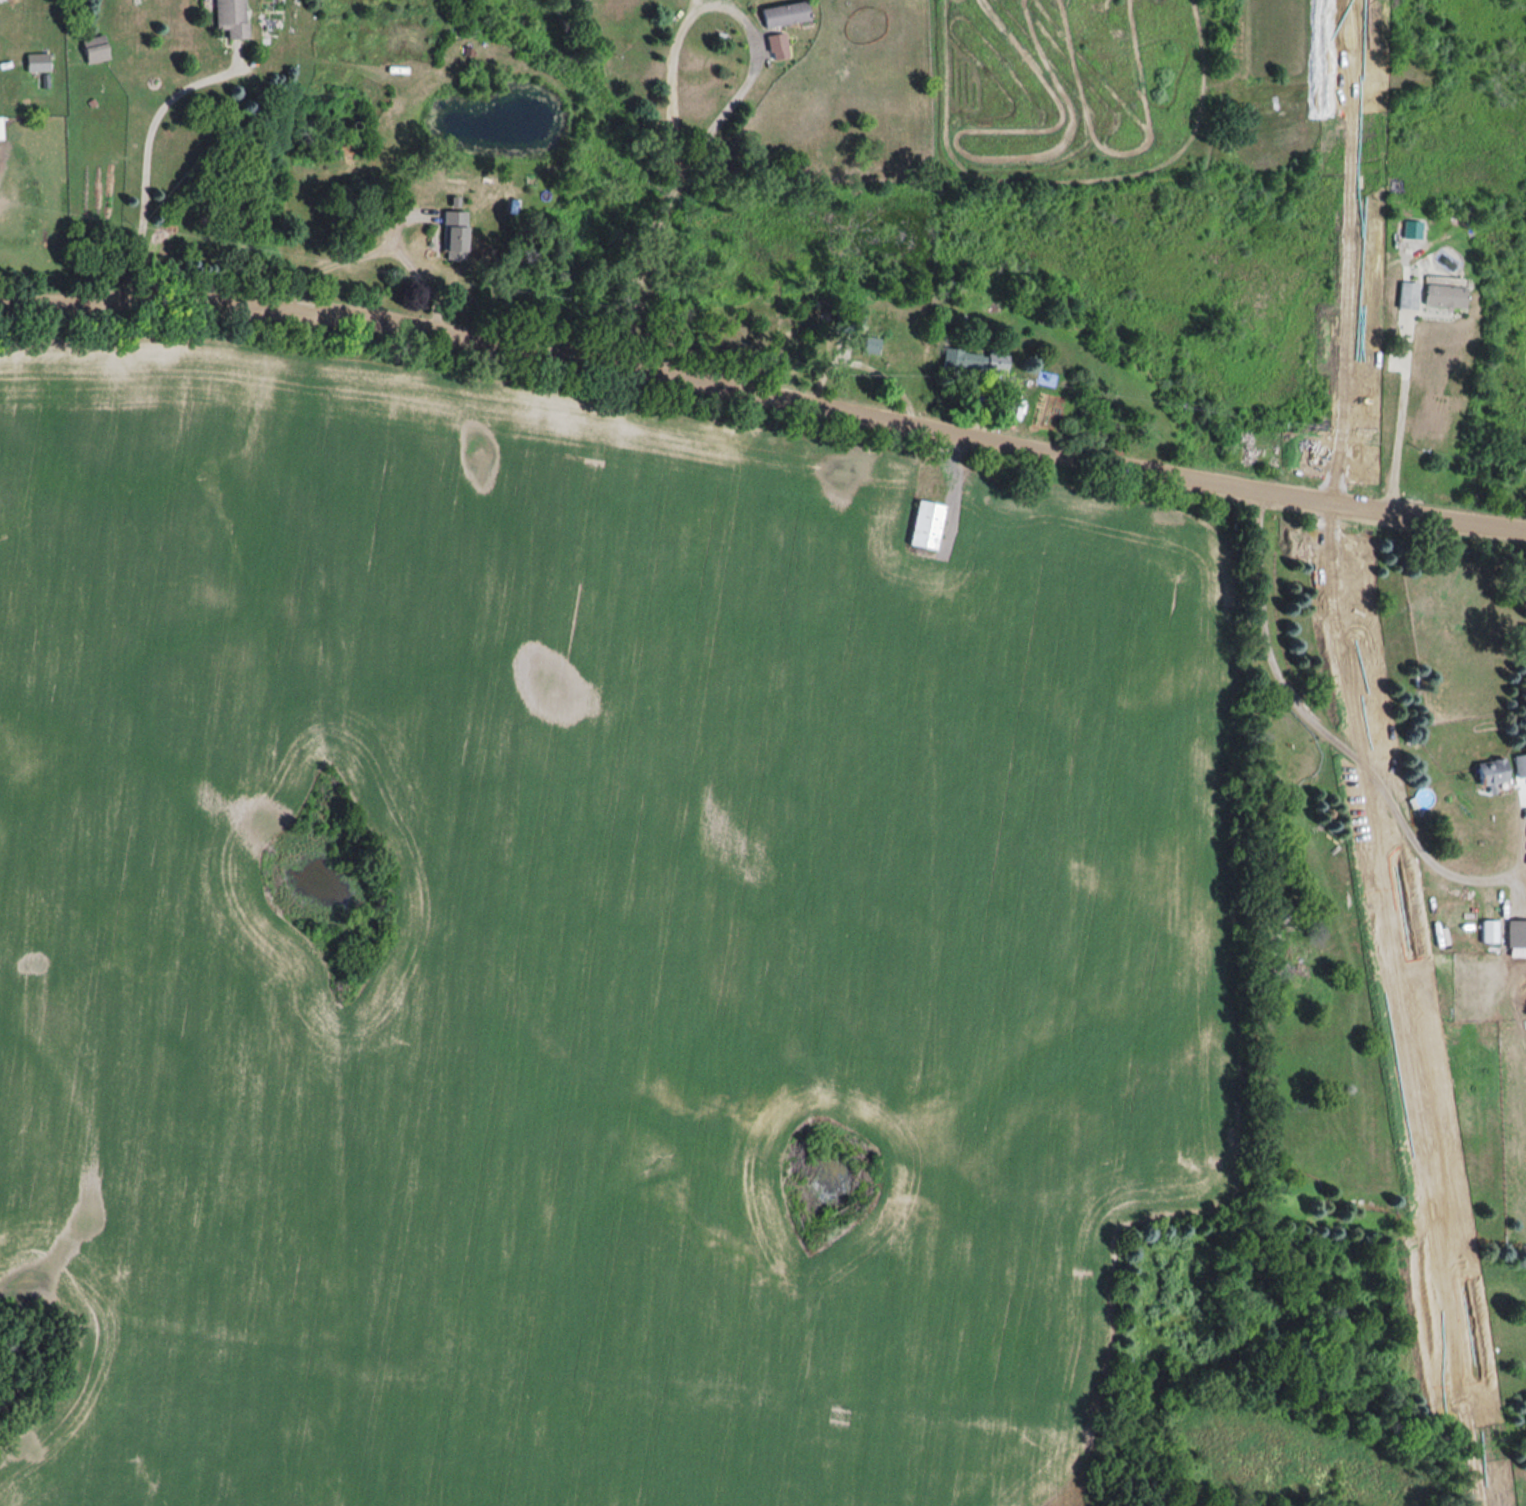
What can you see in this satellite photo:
building: (782, 12)
building: (228, 17)
building: (92, 48)
building: (35, 60)
road: (674, 74)
road: (744, 81)
road: (145, 153)
building: (451, 233)
road: (377, 248)
road: (642, 263)
building: (1405, 294)
building: (1442, 295)
building: (870, 344)
building: (973, 360)
road: (764, 395)
road: (1402, 430)
building: (923, 524)
road: (1355, 758)
building: (1519, 764)
building: (1490, 771)
building: (1515, 933)

